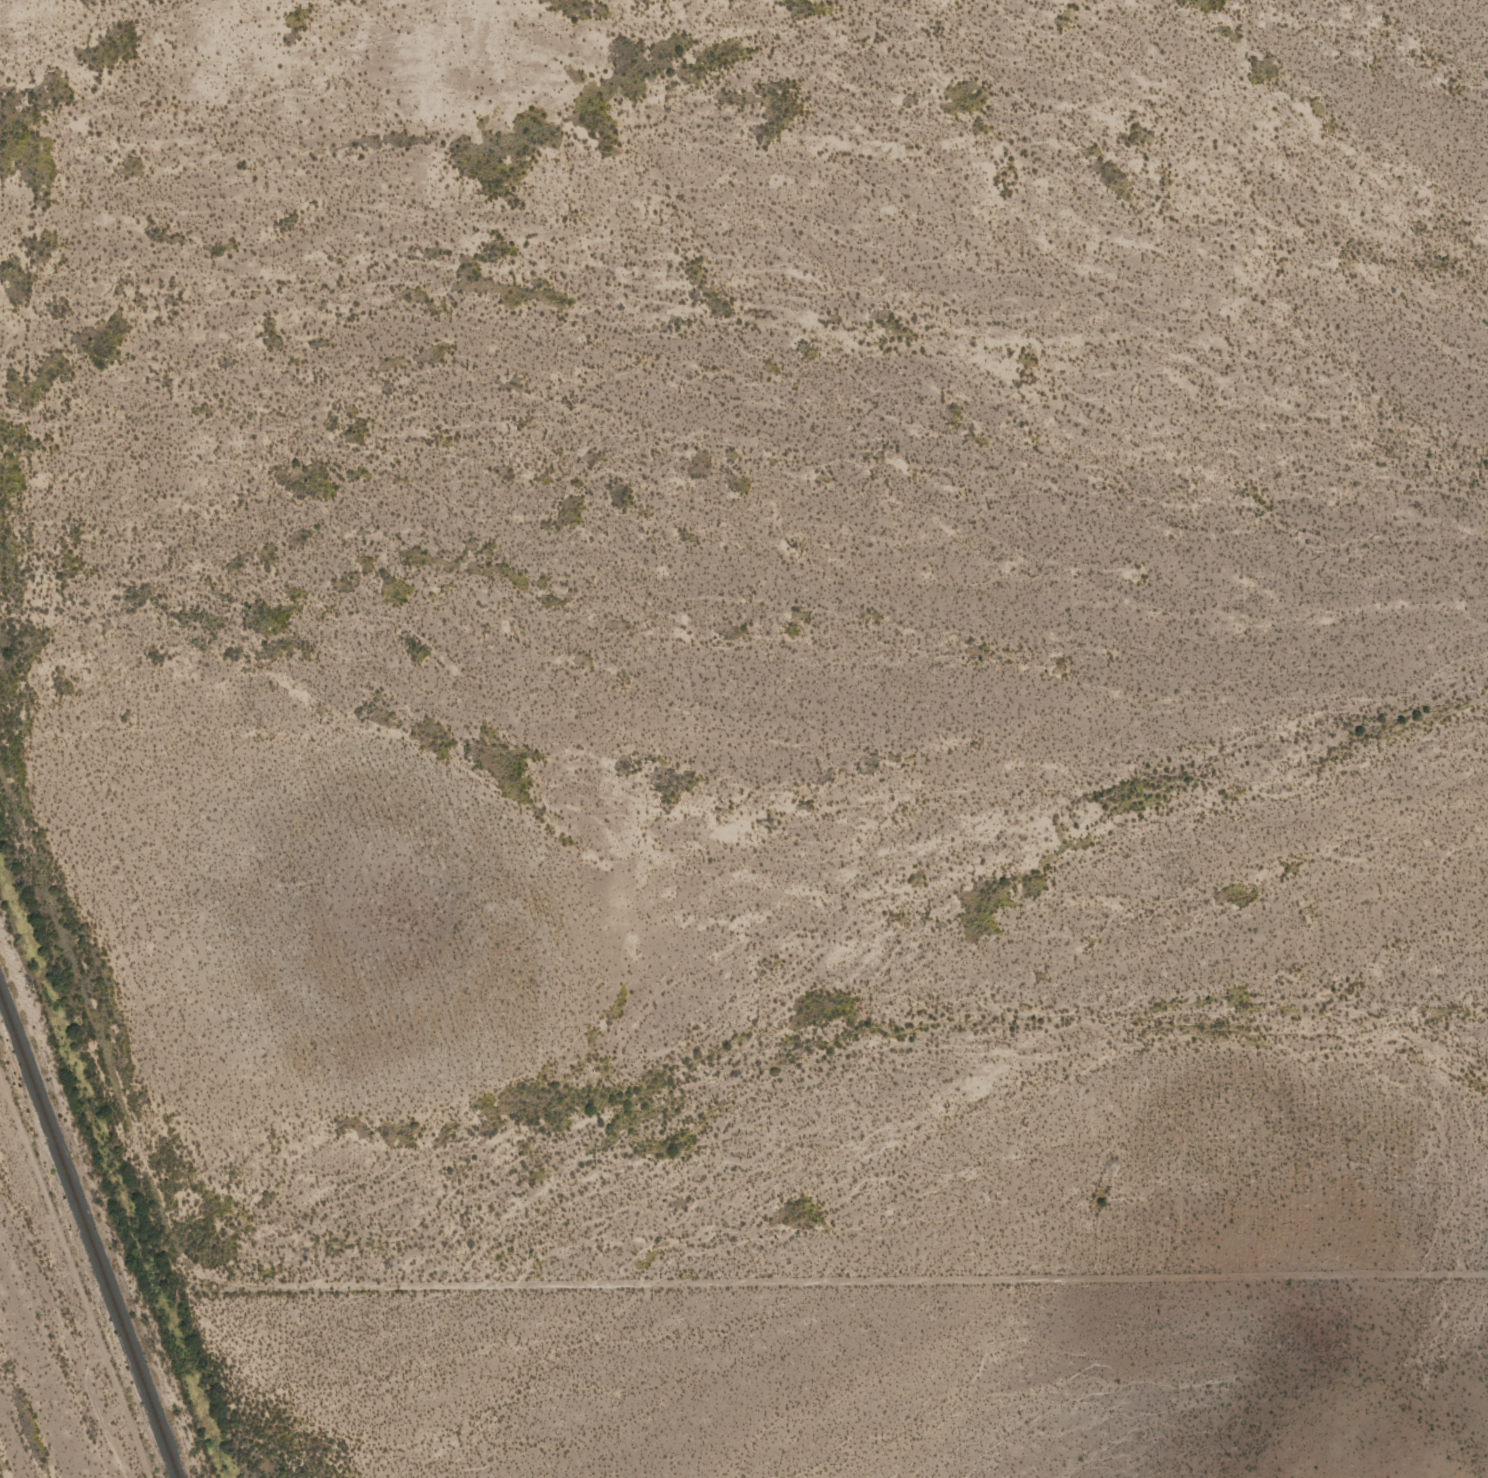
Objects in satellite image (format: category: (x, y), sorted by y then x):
railway: (88, 1237)

